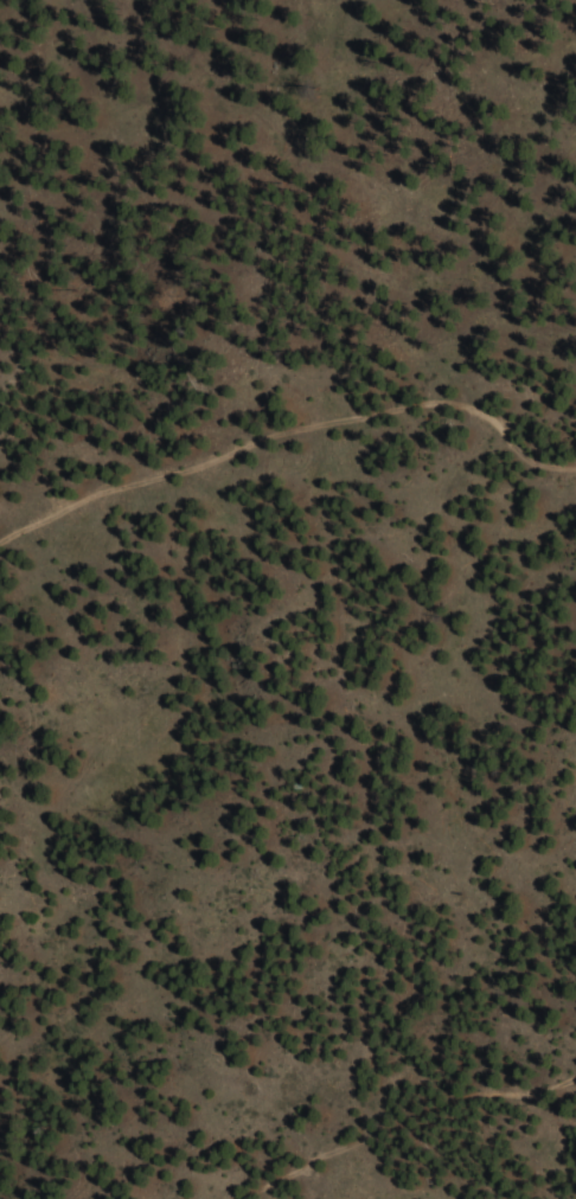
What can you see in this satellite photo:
road: (290, 440)
road: (410, 1126)

